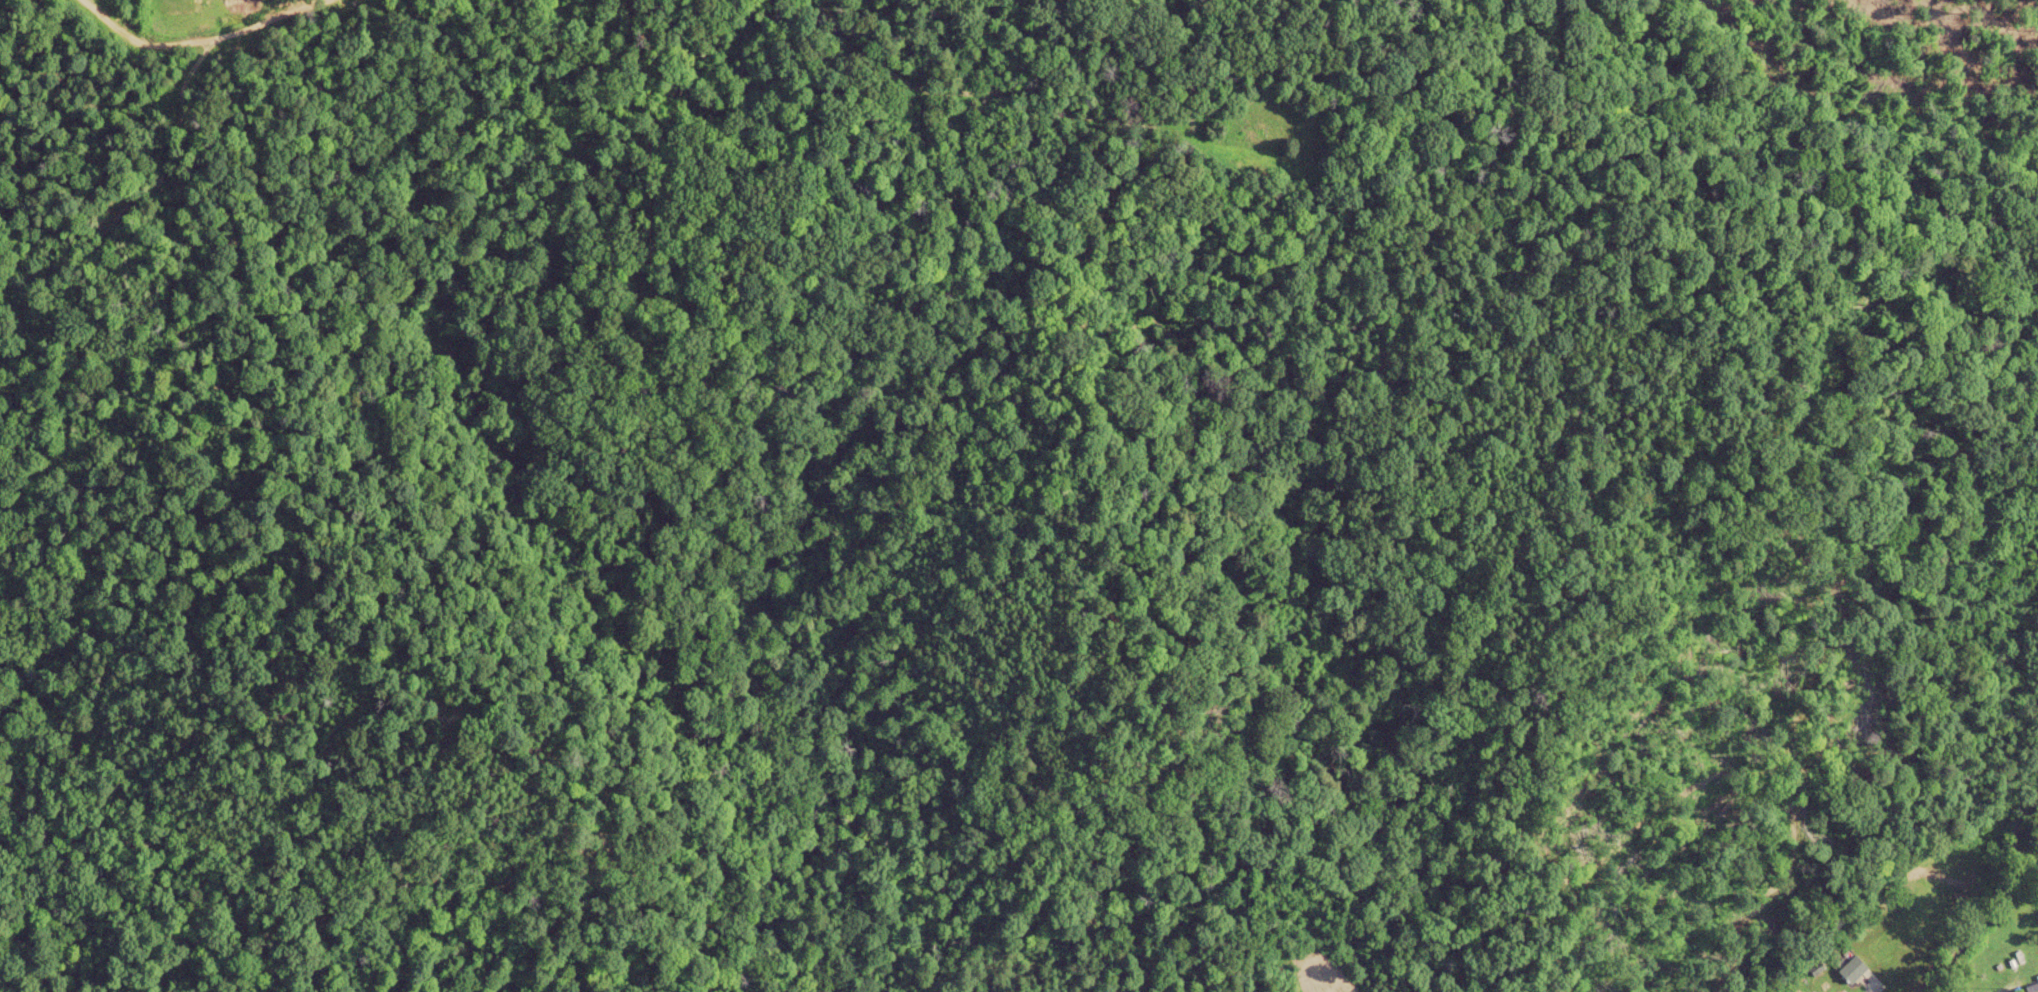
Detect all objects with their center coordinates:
building: (1851, 968)
building: (2032, 986)

